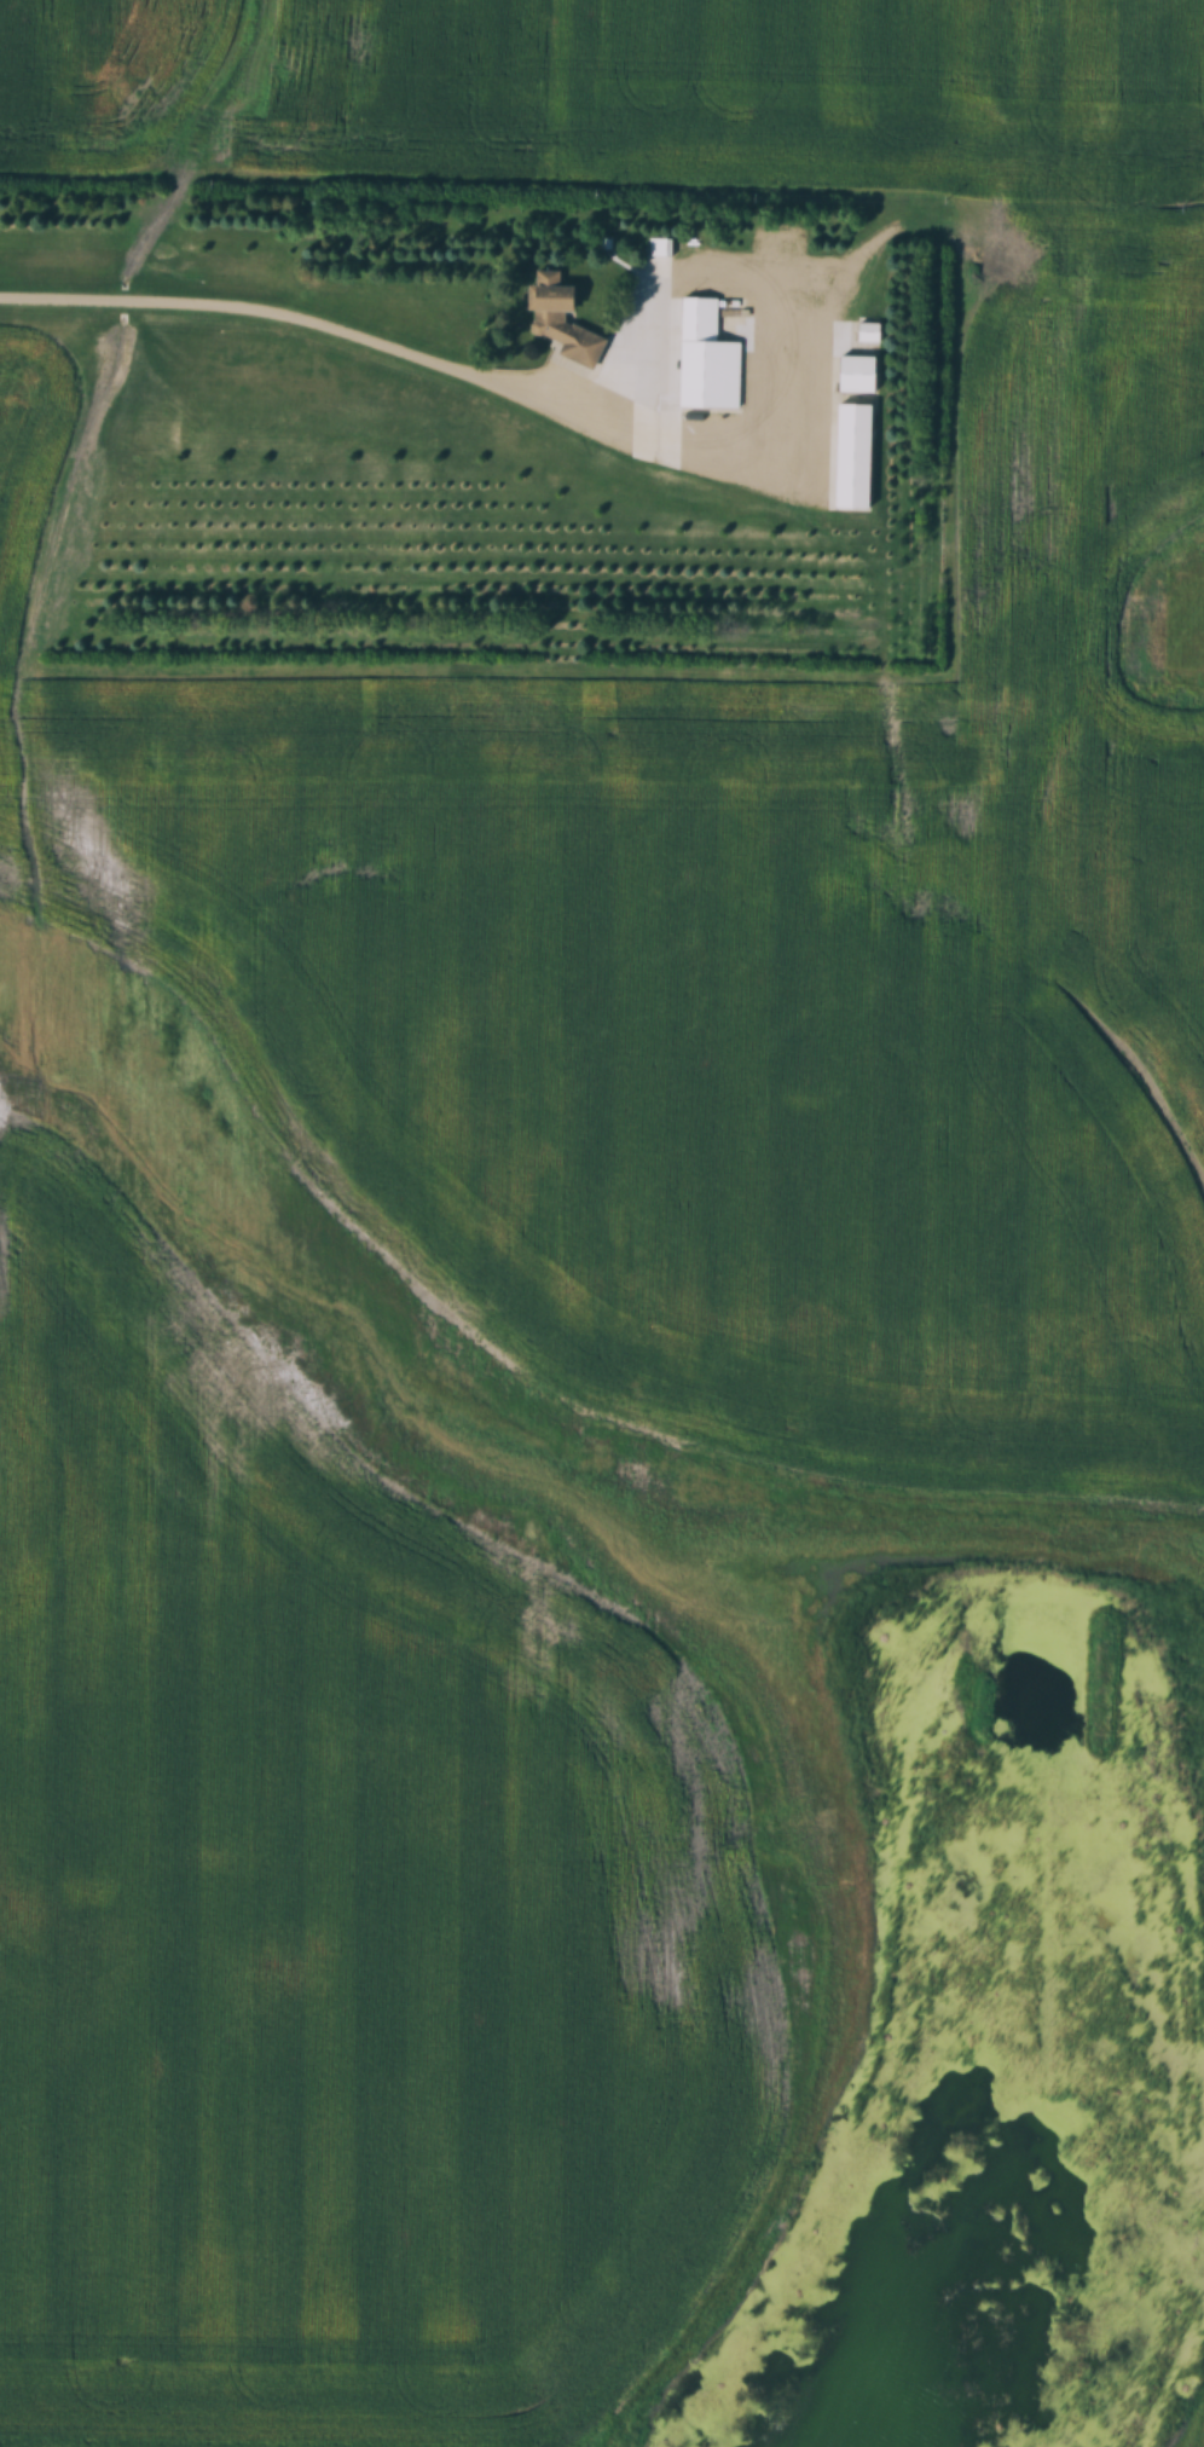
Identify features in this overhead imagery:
road: (276, 313)
building: (563, 318)
building: (870, 332)
building: (713, 352)
building: (861, 375)
building: (856, 415)

